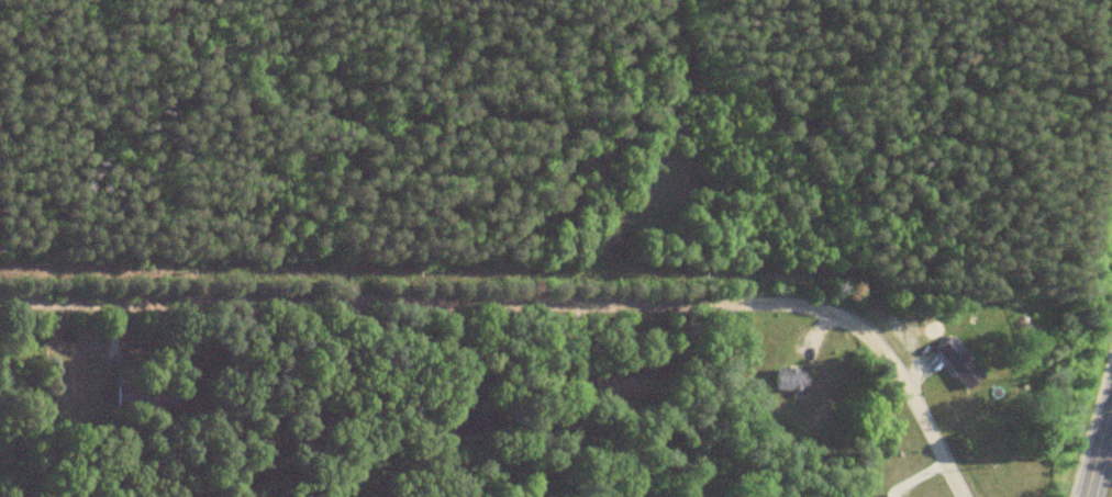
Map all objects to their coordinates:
road: (530, 304)
building: (960, 361)
building: (790, 377)
road: (1097, 448)

